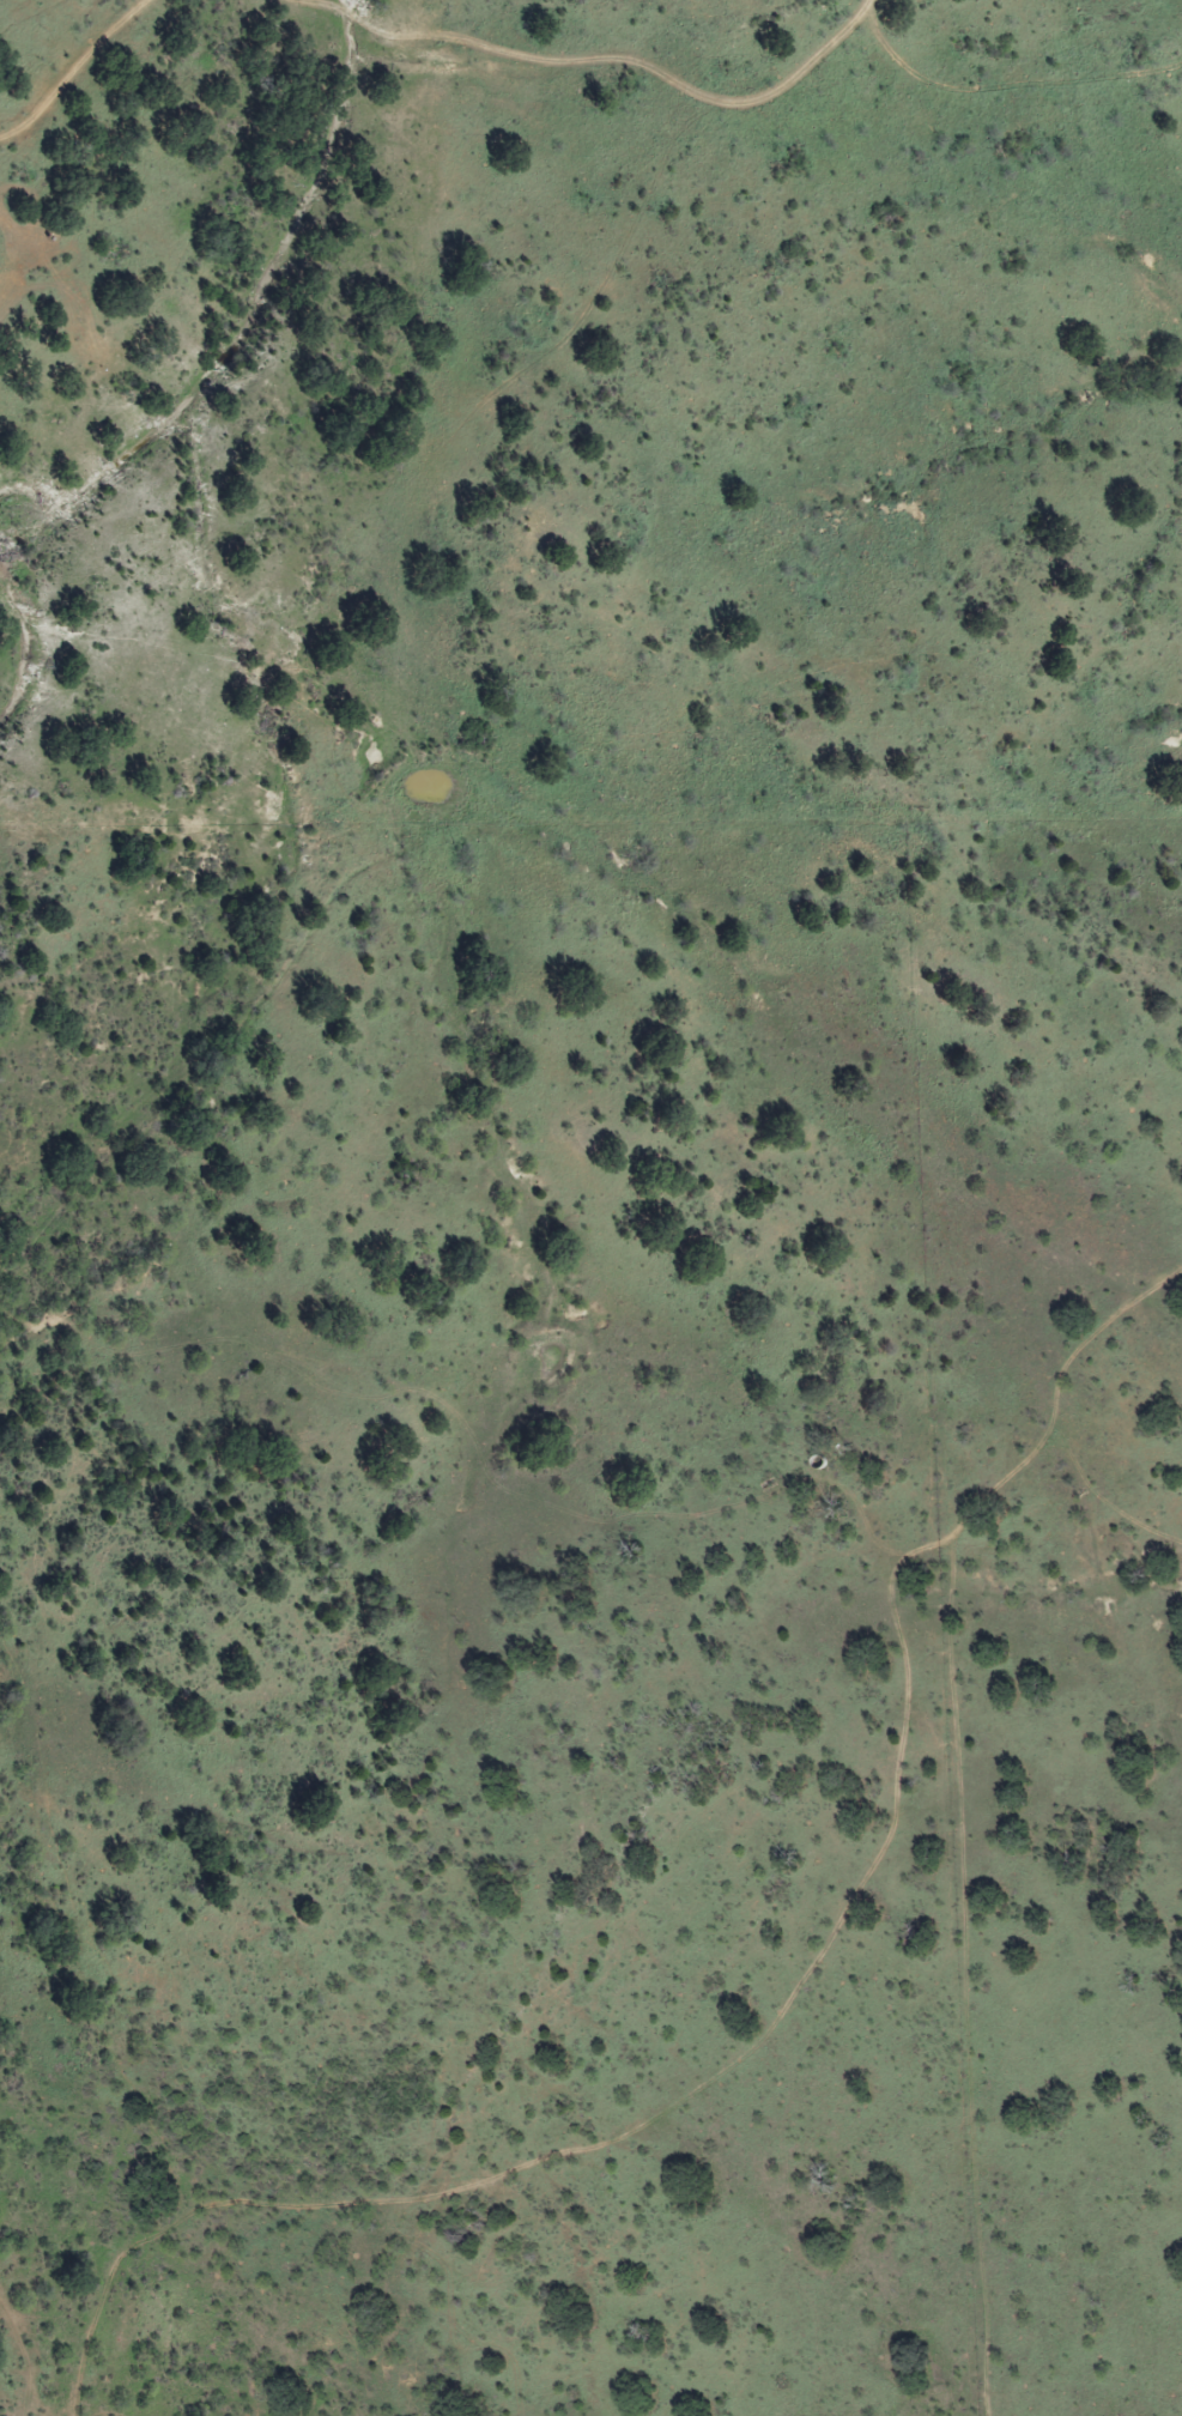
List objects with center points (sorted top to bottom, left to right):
road: (612, 59)
road: (84, 63)

